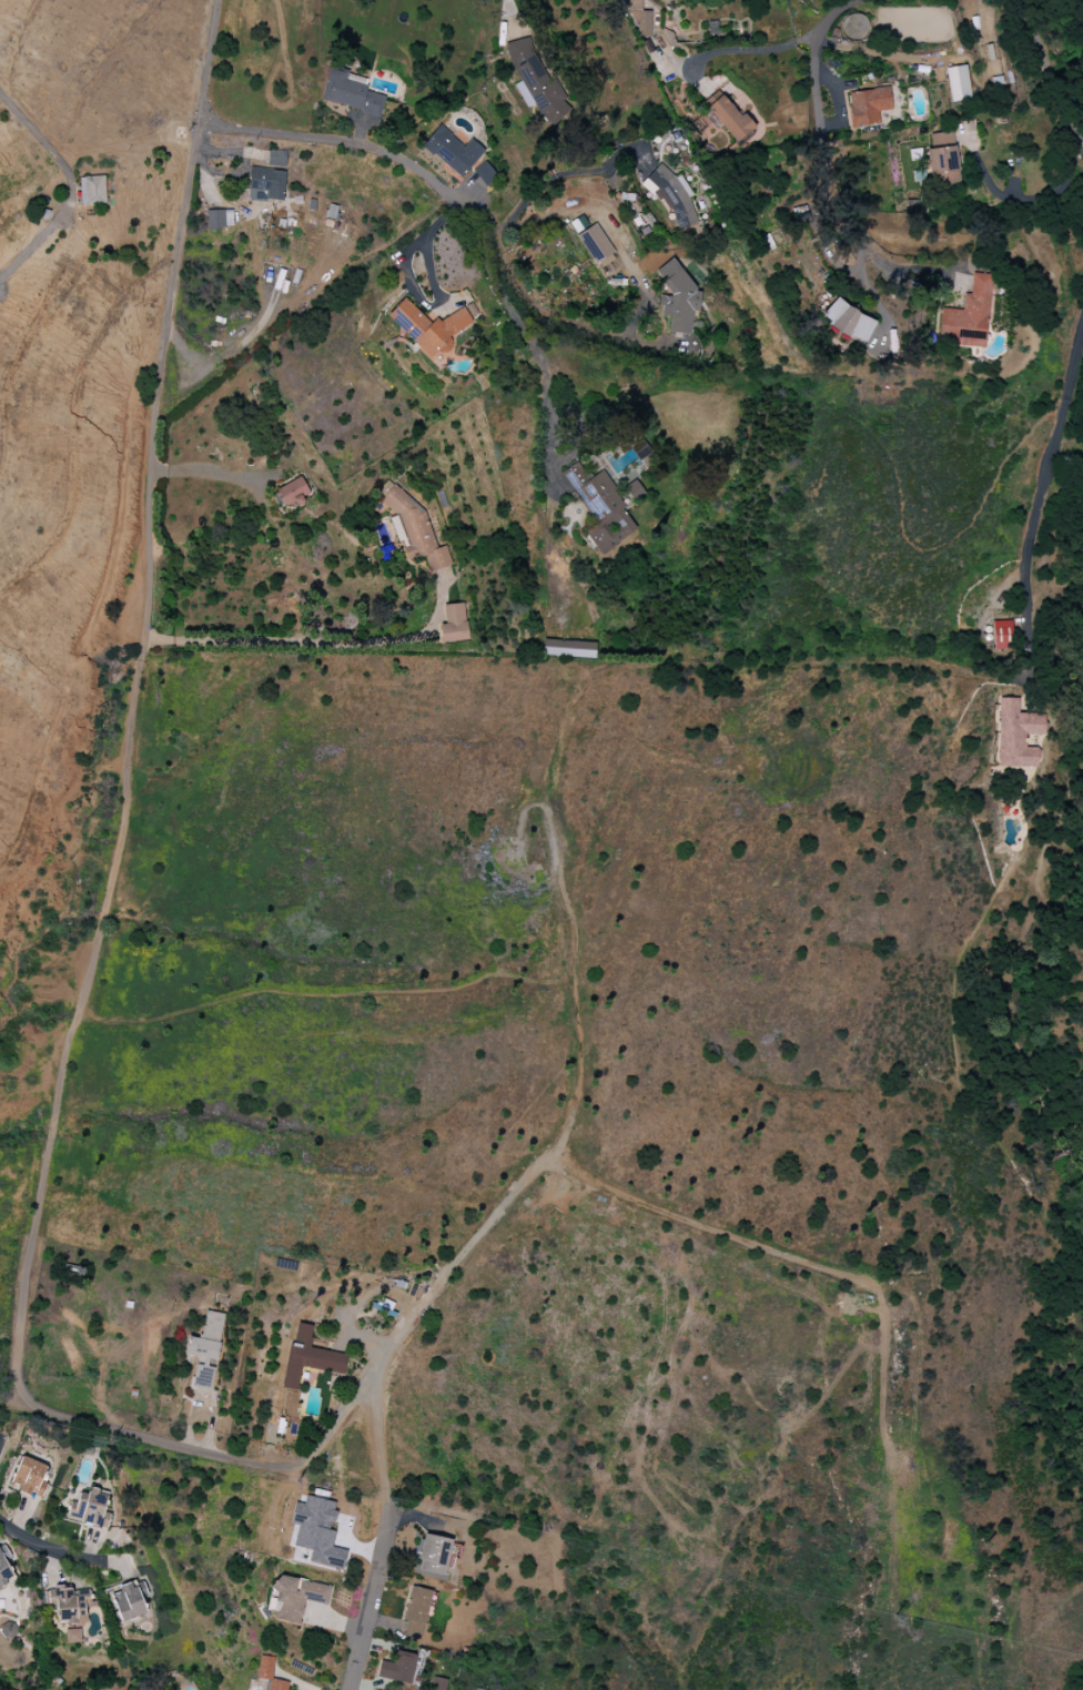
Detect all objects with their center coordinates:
road: (834, 14)
road: (510, 16)
building: (639, 18)
road: (751, 51)
road: (1051, 71)
building: (958, 83)
building: (351, 93)
building: (868, 107)
building: (730, 119)
road: (39, 135)
road: (830, 141)
building: (452, 151)
building: (276, 158)
building: (942, 160)
building: (484, 174)
road: (564, 174)
building: (266, 184)
building: (92, 191)
building: (670, 194)
road: (1022, 199)
road: (458, 213)
building: (219, 219)
building: (579, 224)
building: (596, 245)
road: (907, 269)
road: (411, 287)
road: (870, 294)
building: (677, 297)
building: (969, 316)
building: (847, 321)
building: (428, 327)
road: (632, 328)
road: (230, 345)
building: (293, 493)
building: (600, 508)
building: (454, 624)
building: (1002, 635)
road: (313, 642)
building: (568, 648)
road: (990, 678)
building: (1016, 735)
road: (119, 844)
building: (205, 1349)
building: (308, 1357)
road: (375, 1404)
road: (1, 1417)
building: (30, 1477)
building: (90, 1508)
road: (7, 1529)
building: (316, 1531)
road: (58, 1551)
building: (434, 1555)
building: (4, 1572)
building: (295, 1597)
building: (129, 1600)
building: (72, 1603)
building: (416, 1612)
road: (362, 1621)
building: (72, 1636)
building: (265, 1668)
building: (397, 1668)

